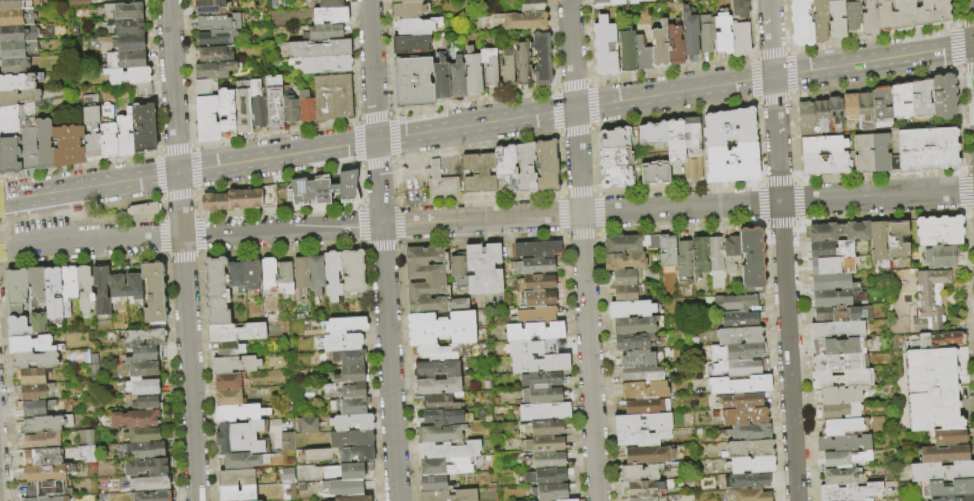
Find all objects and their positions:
building: (406, 1)
building: (77, 2)
building: (634, 2)
building: (331, 3)
building: (607, 3)
building: (16, 4)
building: (533, 6)
building: (211, 7)
building: (739, 7)
building: (407, 10)
building: (122, 11)
building: (920, 13)
building: (330, 15)
building: (853, 16)
building: (885, 16)
building: (16, 17)
building: (869, 18)
building: (837, 19)
building: (524, 20)
building: (821, 20)
building: (220, 22)
building: (802, 23)
building: (126, 26)
building: (417, 26)
building: (323, 32)
building: (689, 32)
building: (18, 33)
building: (722, 33)
building: (706, 34)
building: (740, 36)
building: (217, 37)
building: (122, 43)
building: (411, 43)
building: (674, 45)
building: (659, 46)
building: (604, 47)
building: (16, 49)
building: (319, 49)
building: (626, 50)
building: (215, 54)
road: (571, 54)
building: (642, 55)
building: (542, 56)
building: (125, 59)
building: (522, 63)
building: (326, 64)
building: (13, 66)
building: (490, 66)
building: (507, 69)
building: (215, 70)
road: (371, 70)
building: (473, 72)
building: (128, 75)
road: (774, 76)
building: (458, 78)
building: (441, 79)
building: (19, 81)
building: (413, 82)
road: (172, 86)
building: (204, 86)
building: (142, 89)
building: (341, 95)
building: (943, 96)
building: (18, 97)
building: (323, 97)
building: (920, 99)
building: (900, 101)
building: (274, 102)
building: (257, 103)
building: (290, 103)
building: (881, 104)
building: (306, 106)
building: (242, 107)
building: (850, 107)
building: (866, 111)
building: (226, 113)
building: (25, 114)
building: (835, 115)
building: (820, 116)
building: (207, 118)
building: (805, 119)
building: (8, 122)
road: (475, 124)
building: (143, 126)
building: (729, 126)
building: (653, 131)
building: (107, 132)
building: (91, 133)
building: (124, 134)
building: (691, 134)
building: (614, 137)
building: (675, 140)
traffic signals: (376, 141)
building: (43, 143)
building: (821, 145)
building: (68, 146)
building: (923, 148)
building: (27, 149)
building: (872, 154)
building: (9, 156)
building: (614, 156)
road: (578, 161)
building: (504, 162)
building: (732, 162)
building: (827, 164)
building: (547, 165)
road: (219, 166)
building: (526, 167)
building: (693, 168)
building: (655, 172)
building: (479, 173)
building: (616, 175)
building: (441, 181)
road: (378, 183)
building: (343, 186)
building: (301, 190)
building: (321, 191)
building: (283, 194)
road: (31, 196)
building: (268, 196)
building: (231, 201)
road: (777, 203)
road: (178, 205)
building: (145, 209)
road: (481, 219)
building: (939, 230)
road: (281, 231)
building: (839, 232)
road: (137, 239)
building: (897, 241)
building: (652, 242)
building: (879, 243)
building: (625, 244)
road: (46, 246)
building: (537, 249)
road: (782, 250)
building: (821, 250)
building: (667, 251)
building: (732, 252)
building: (715, 254)
building: (699, 255)
building: (844, 257)
building: (940, 257)
building: (752, 258)
building: (684, 259)
building: (623, 261)
building: (534, 266)
building: (823, 266)
building: (458, 270)
building: (483, 270)
building: (353, 271)
building: (252, 274)
building: (301, 274)
building: (268, 275)
building: (316, 275)
building: (332, 275)
building: (236, 276)
building: (625, 277)
building: (284, 278)
building: (425, 280)
building: (537, 283)
building: (832, 283)
building: (36, 284)
building: (117, 286)
building: (133, 286)
building: (68, 288)
building: (85, 290)
building: (15, 291)
building: (101, 291)
building: (752, 291)
building: (154, 292)
building: (216, 292)
building: (627, 293)
building: (52, 294)
building: (833, 298)
building: (536, 299)
building: (929, 301)
building: (734, 303)
building: (459, 304)
building: (630, 309)
building: (842, 314)
building: (537, 315)
building: (740, 320)
building: (38, 323)
building: (345, 325)
building: (636, 326)
building: (17, 327)
building: (441, 329)
building: (837, 329)
building: (534, 331)
building: (236, 332)
building: (739, 336)
building: (144, 337)
building: (949, 339)
building: (631, 341)
building: (339, 343)
building: (32, 345)
building: (542, 346)
building: (838, 346)
building: (230, 349)
building: (438, 351)
building: (736, 352)
building: (142, 354)
road: (589, 357)
building: (348, 358)
building: (633, 358)
building: (34, 360)
building: (838, 362)
road: (388, 363)
building: (235, 364)
building: (540, 364)
building: (141, 368)
building: (437, 368)
road: (188, 369)
building: (717, 369)
building: (742, 369)
building: (642, 373)
building: (350, 375)
building: (31, 376)
building: (841, 379)
building: (539, 380)
building: (230, 382)
building: (437, 385)
building: (740, 385)
building: (934, 385)
building: (142, 387)
building: (353, 390)
building: (645, 391)
building: (33, 393)
building: (841, 395)
building: (541, 396)
building: (228, 398)
building: (742, 400)
building: (148, 402)
building: (439, 402)
building: (353, 406)
building: (645, 406)
building: (36, 408)
building: (835, 411)
building: (543, 412)
building: (240, 413)
building: (745, 416)
building: (443, 417)
building: (134, 419)
building: (352, 422)
building: (642, 422)
building: (46, 424)
building: (309, 425)
building: (841, 427)
building: (543, 428)
building: (748, 432)
building: (440, 433)
building: (143, 435)
building: (84, 437)
building: (240, 437)
building: (947, 437)
building: (641, 438)
building: (351, 439)
building: (43, 441)
building: (287, 441)
building: (845, 443)
building: (544, 445)
building: (750, 448)
building: (147, 450)
building: (448, 450)
building: (84, 453)
building: (363, 454)
building: (944, 454)
building: (319, 455)
building: (649, 455)
building: (344, 456)
building: (42, 457)
building: (845, 458)
building: (545, 460)
building: (244, 461)
building: (751, 465)
building: (368, 466)
building: (445, 466)
building: (146, 467)
building: (942, 471)
building: (344, 472)
building: (639, 472)
building: (47, 473)
building: (287, 475)
building: (545, 476)
building: (841, 476)
building: (238, 478)
building: (748, 481)
building: (149, 483)
building: (433, 483)
building: (345, 488)
building: (645, 489)
building: (951, 489)
building: (45, 490)
building: (289, 491)
building: (550, 492)
building: (851, 492)
building: (238, 493)
building: (751, 495)
building: (152, 496)
building: (448, 496)
building: (353, 498)
building: (956, 498)
building: (23, 499)
building: (47, 499)
building: (648, 499)
building: (256, 500)
building: (568, 500)
building: (867, 500)

